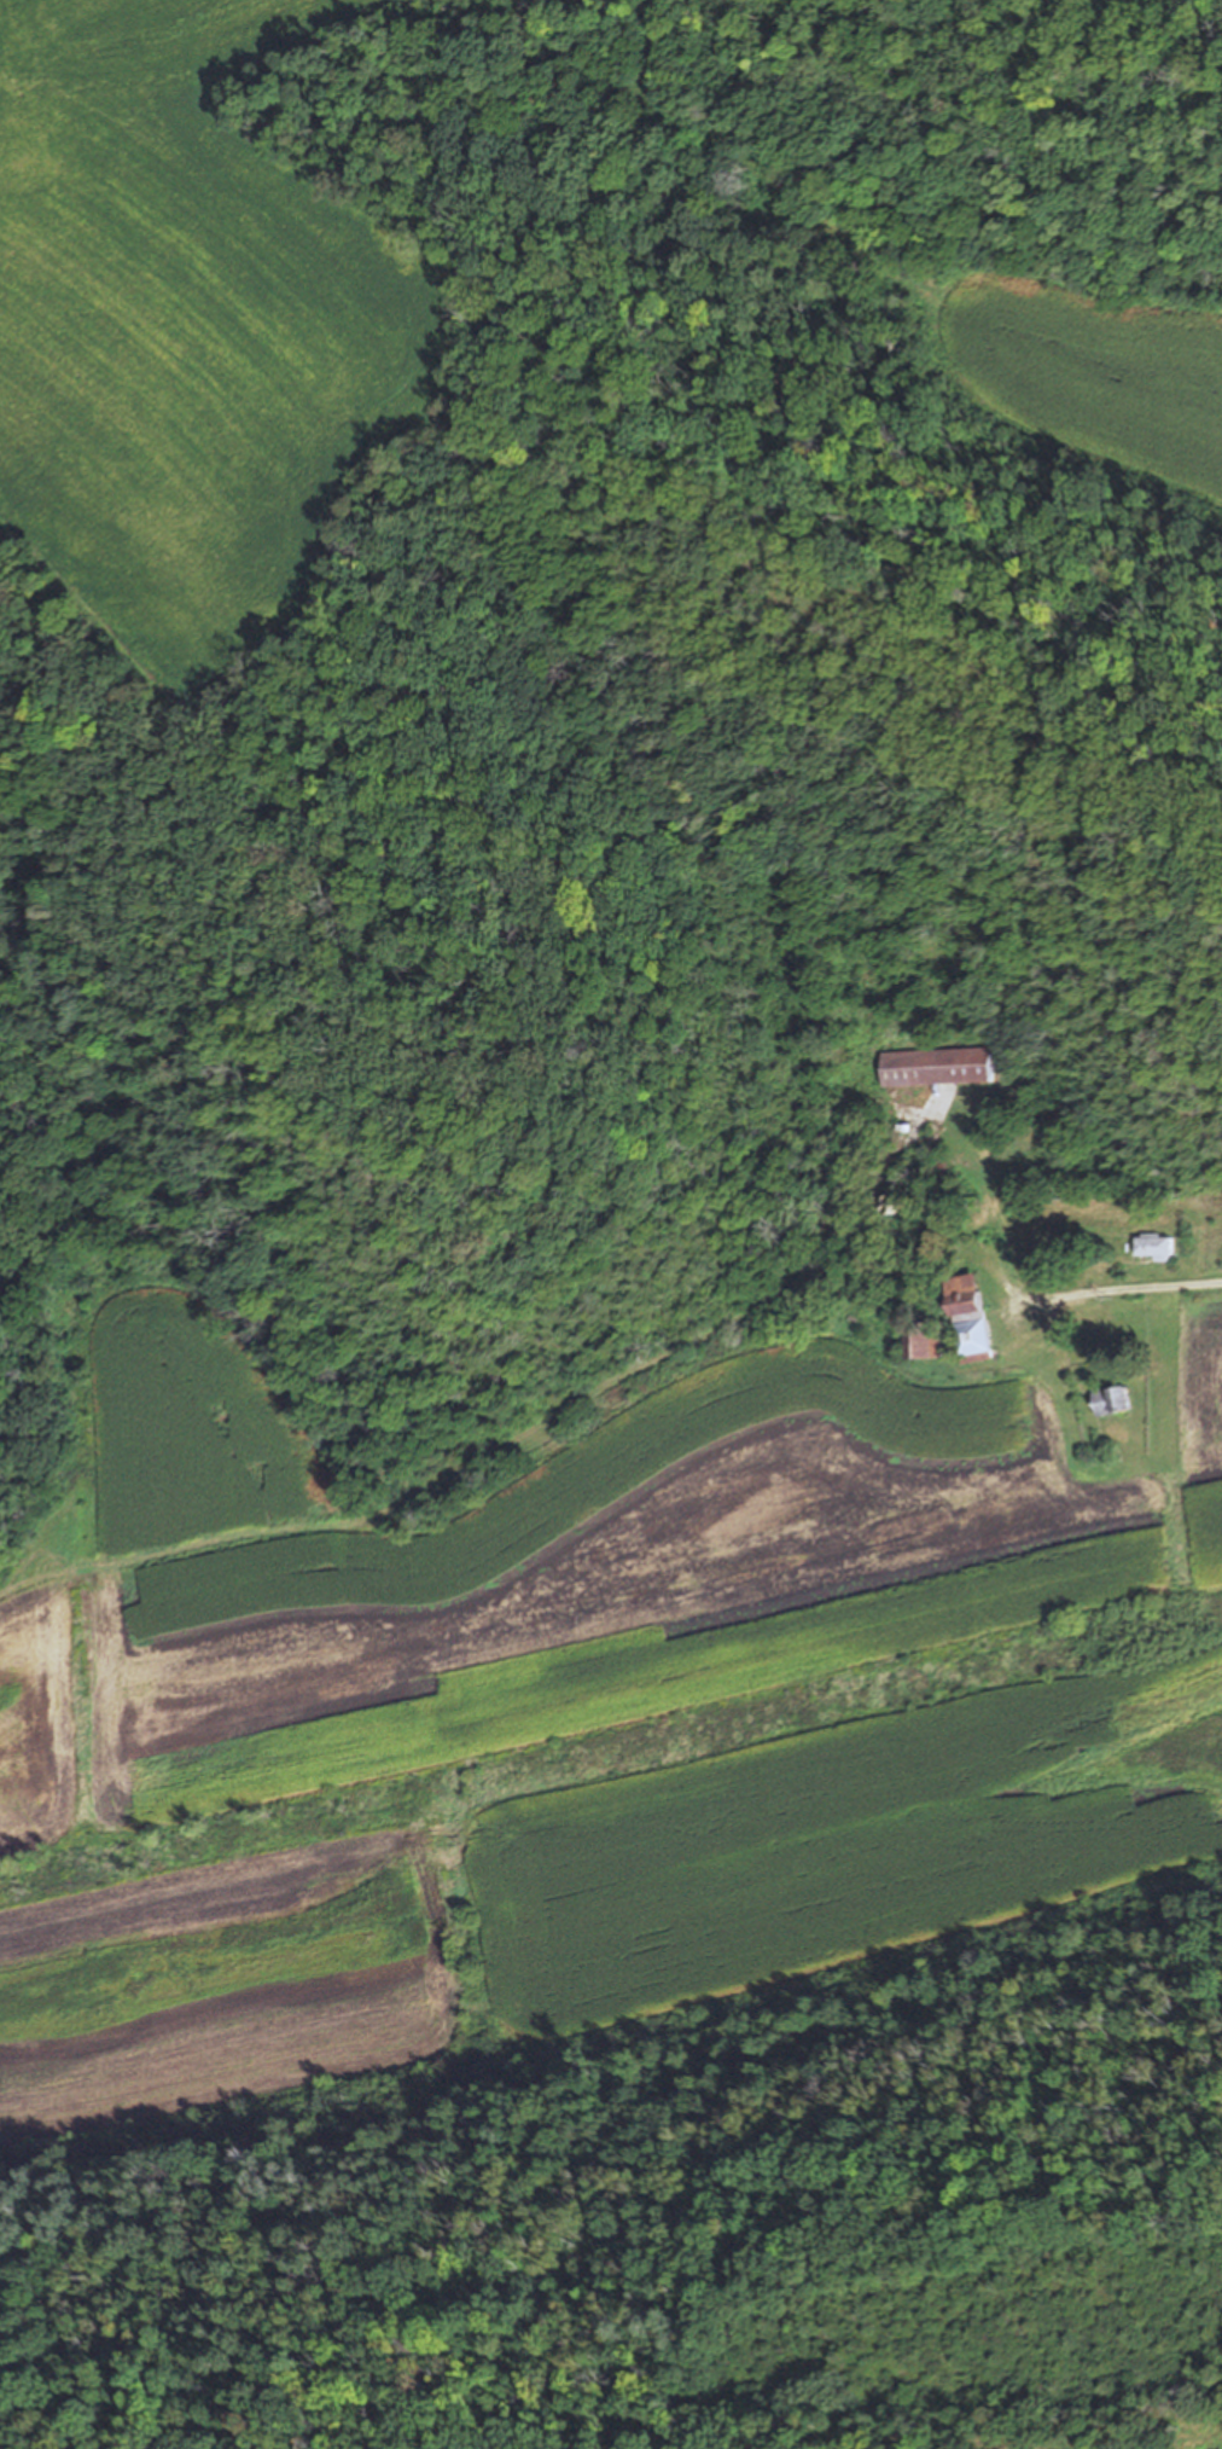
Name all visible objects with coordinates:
building: (937, 1066)
building: (1156, 1247)
building: (1037, 1258)
building: (1042, 1276)
road: (1121, 1289)
building: (967, 1318)
building: (924, 1340)
building: (1113, 1398)

